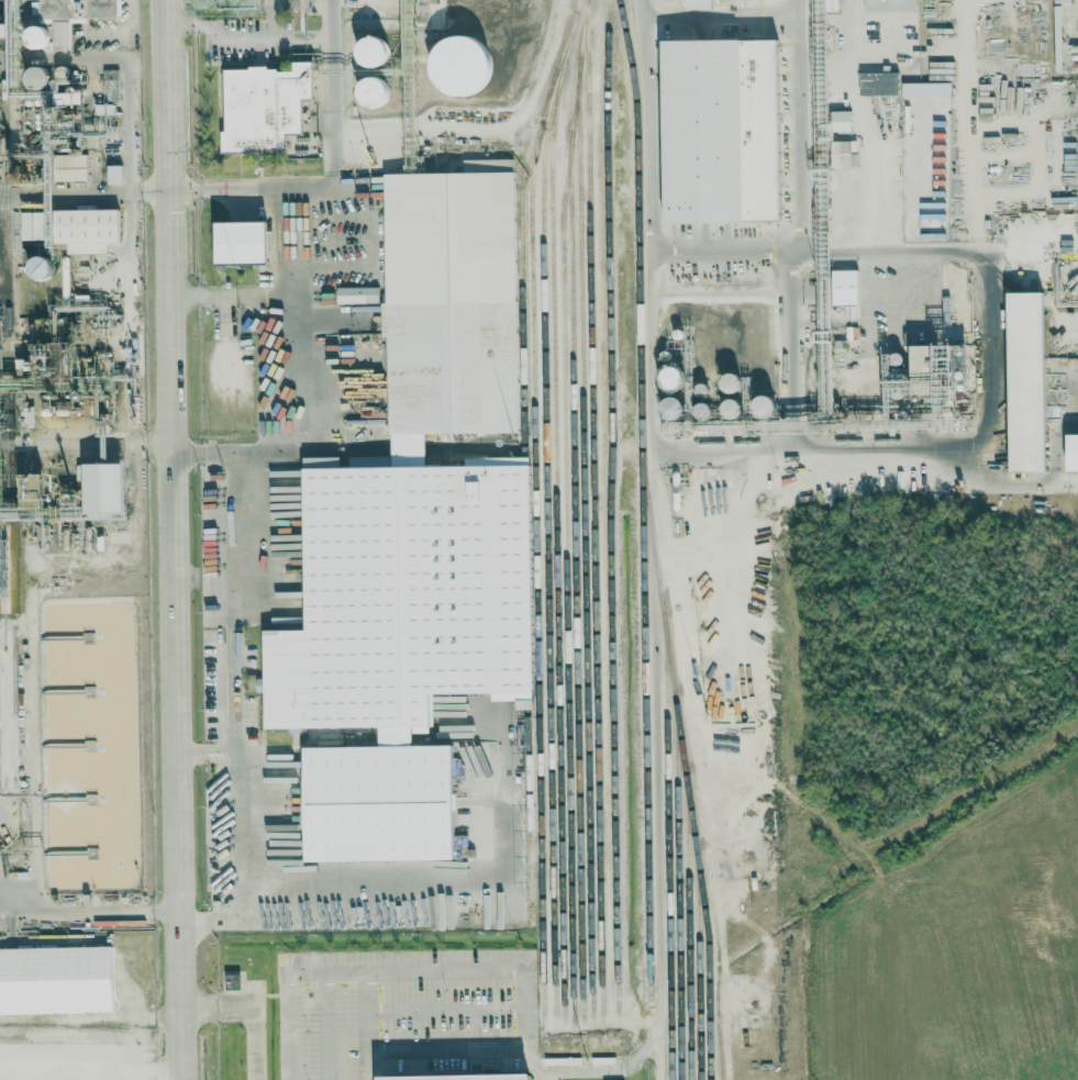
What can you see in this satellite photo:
building: (73, 14)
building: (3, 29)
building: (888, 30)
building: (36, 35)
road: (247, 37)
building: (373, 49)
building: (462, 64)
road: (803, 65)
road: (823, 65)
road: (838, 65)
railway: (3, 73)
building: (36, 76)
road: (127, 77)
building: (878, 81)
building: (110, 83)
building: (374, 90)
building: (264, 105)
building: (920, 105)
building: (841, 120)
road: (863, 127)
building: (721, 130)
building: (841, 153)
building: (69, 167)
building: (114, 174)
railway: (3, 175)
road: (262, 188)
building: (857, 193)
railway: (520, 221)
road: (792, 221)
building: (31, 225)
building: (86, 229)
building: (241, 241)
building: (38, 267)
road: (130, 268)
railway: (4, 272)
building: (845, 287)
building: (357, 294)
building: (452, 301)
road: (227, 320)
building: (856, 372)
building: (924, 379)
building: (1027, 380)
building: (732, 382)
building: (703, 389)
building: (670, 405)
building: (765, 405)
road: (983, 438)
building: (1073, 452)
railway: (10, 465)
building: (103, 487)
railway: (642, 499)
railway: (584, 510)
railway: (593, 510)
railway: (611, 510)
railway: (546, 516)
railway: (575, 538)
road: (179, 539)
railway: (556, 546)
railway: (537, 547)
railway: (566, 576)
railway: (527, 581)
building: (407, 592)
road: (234, 659)
railway: (667, 767)
building: (378, 802)
railway: (531, 806)
railway: (678, 845)
railway: (688, 884)
road: (357, 917)
railway: (699, 920)
railway: (709, 957)
road: (468, 967)
building: (56, 980)
building: (233, 982)
road: (446, 1009)
road: (255, 1011)
road: (369, 1024)
road: (326, 1025)
parking lot: (448, 1049)
road: (534, 1062)
road: (95, 1070)
building: (462, 1078)

